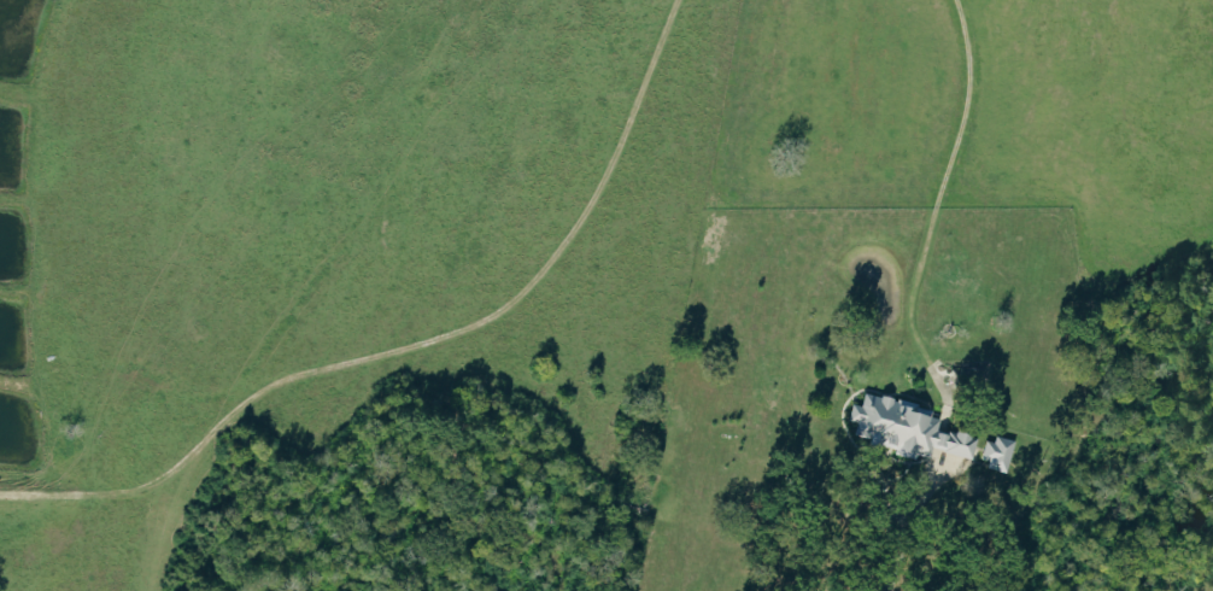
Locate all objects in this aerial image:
road: (947, 195)
building: (902, 427)
building: (992, 451)
road: (898, 572)

